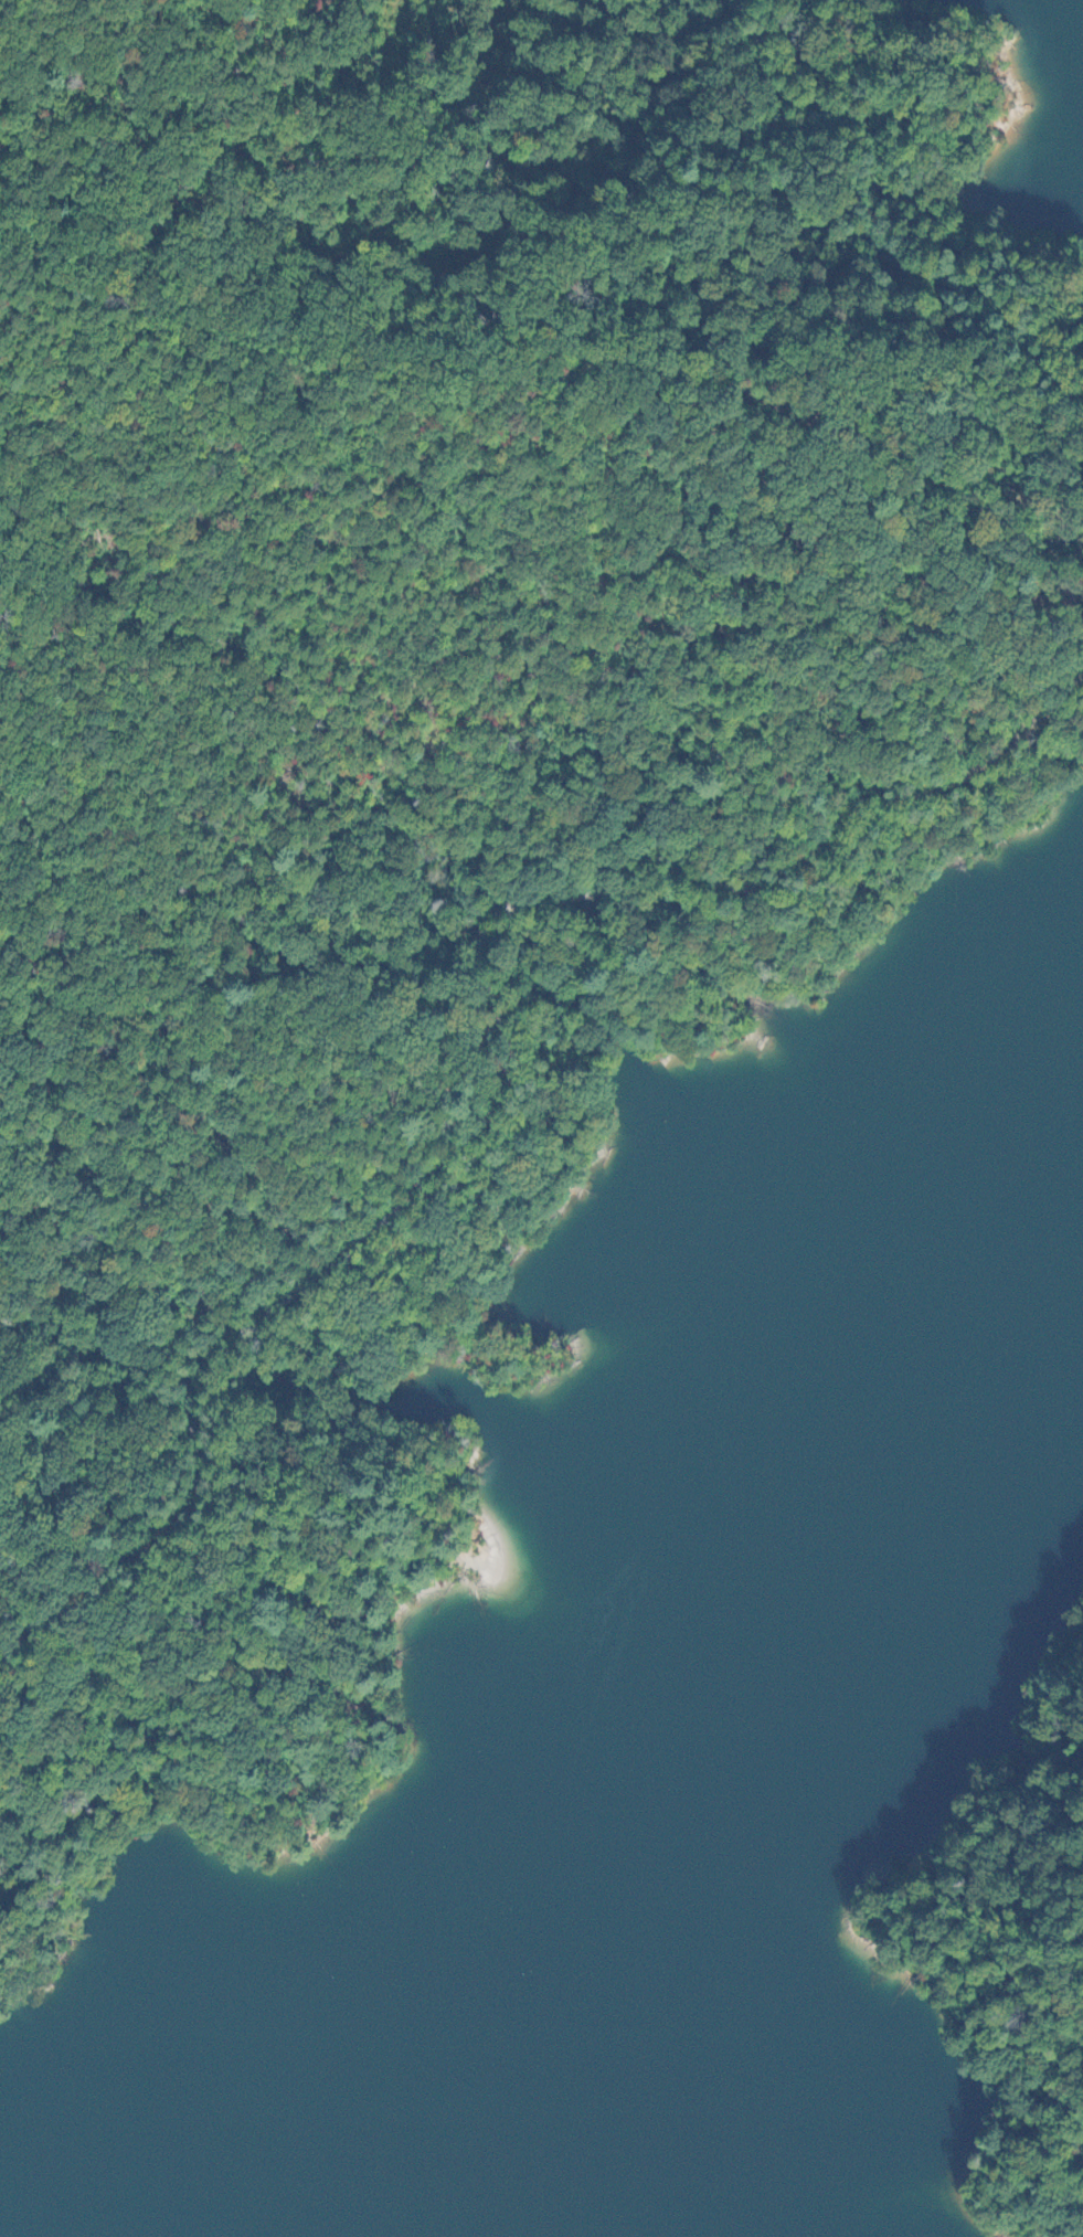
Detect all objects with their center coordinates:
road: (895, 201)
road: (524, 1091)

